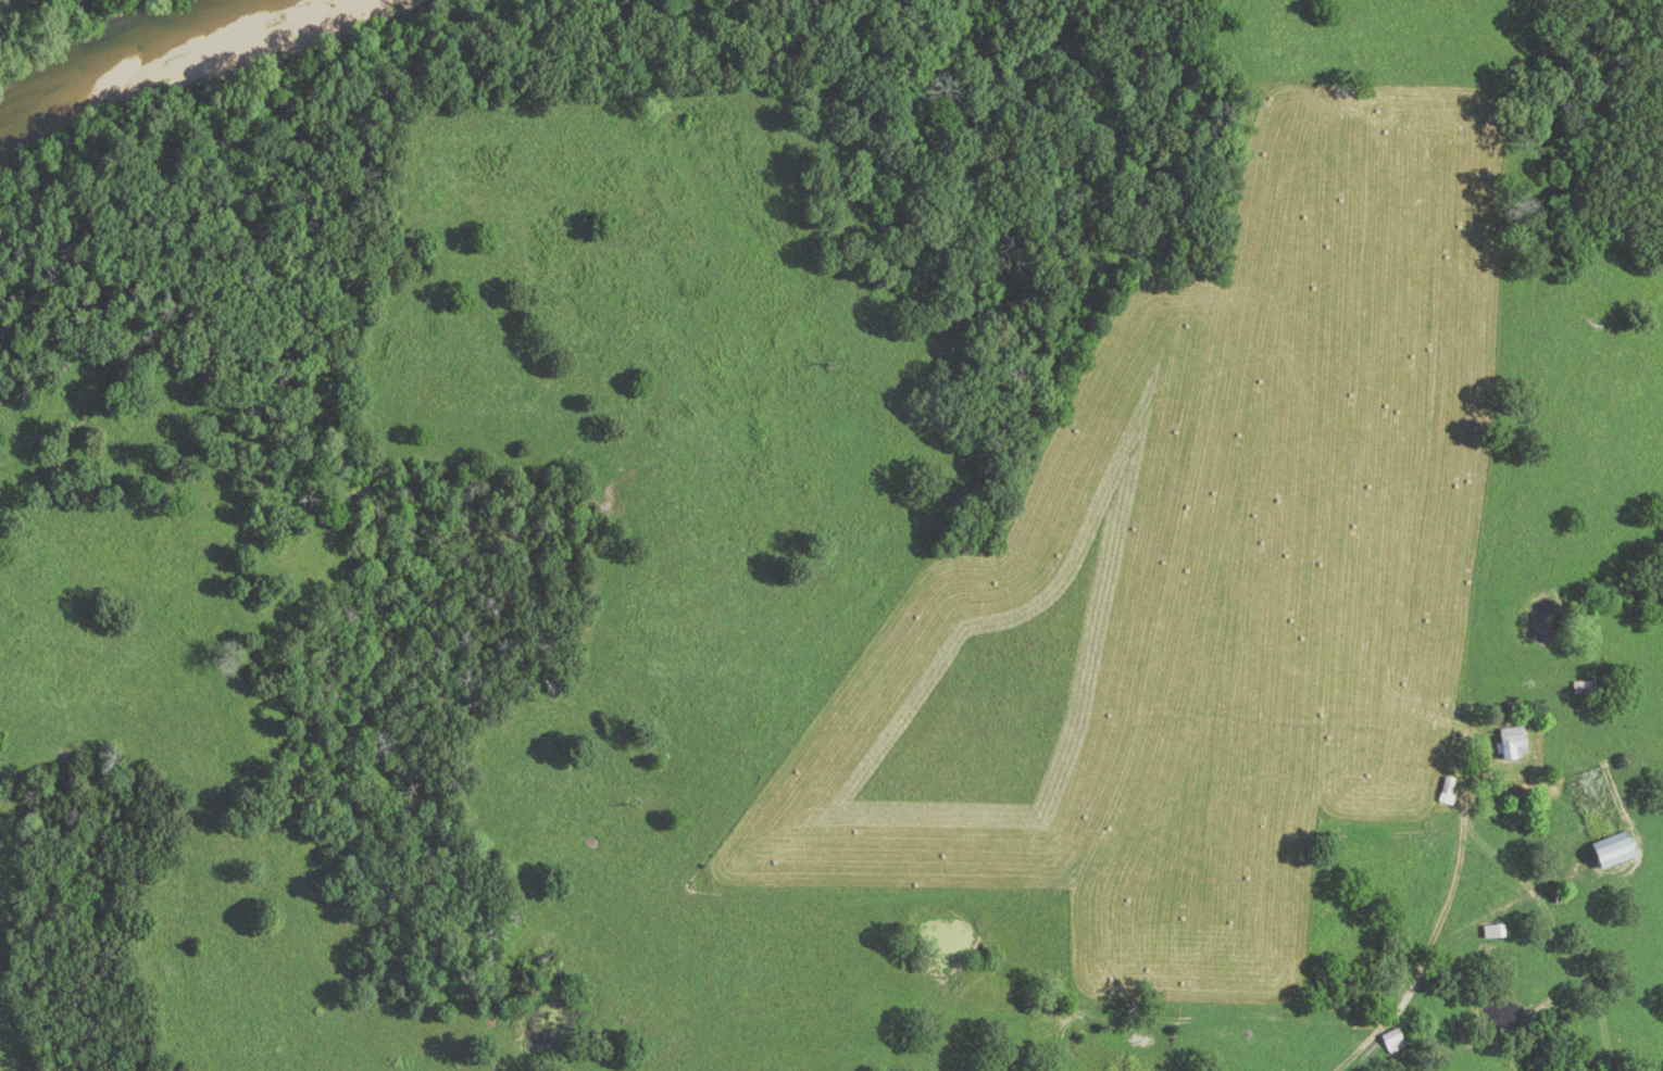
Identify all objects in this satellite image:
river: (118, 31)
building: (1586, 689)
building: (1516, 744)
building: (1451, 792)
building: (1622, 850)
building: (1498, 932)
road: (1438, 947)
building: (1398, 1042)

